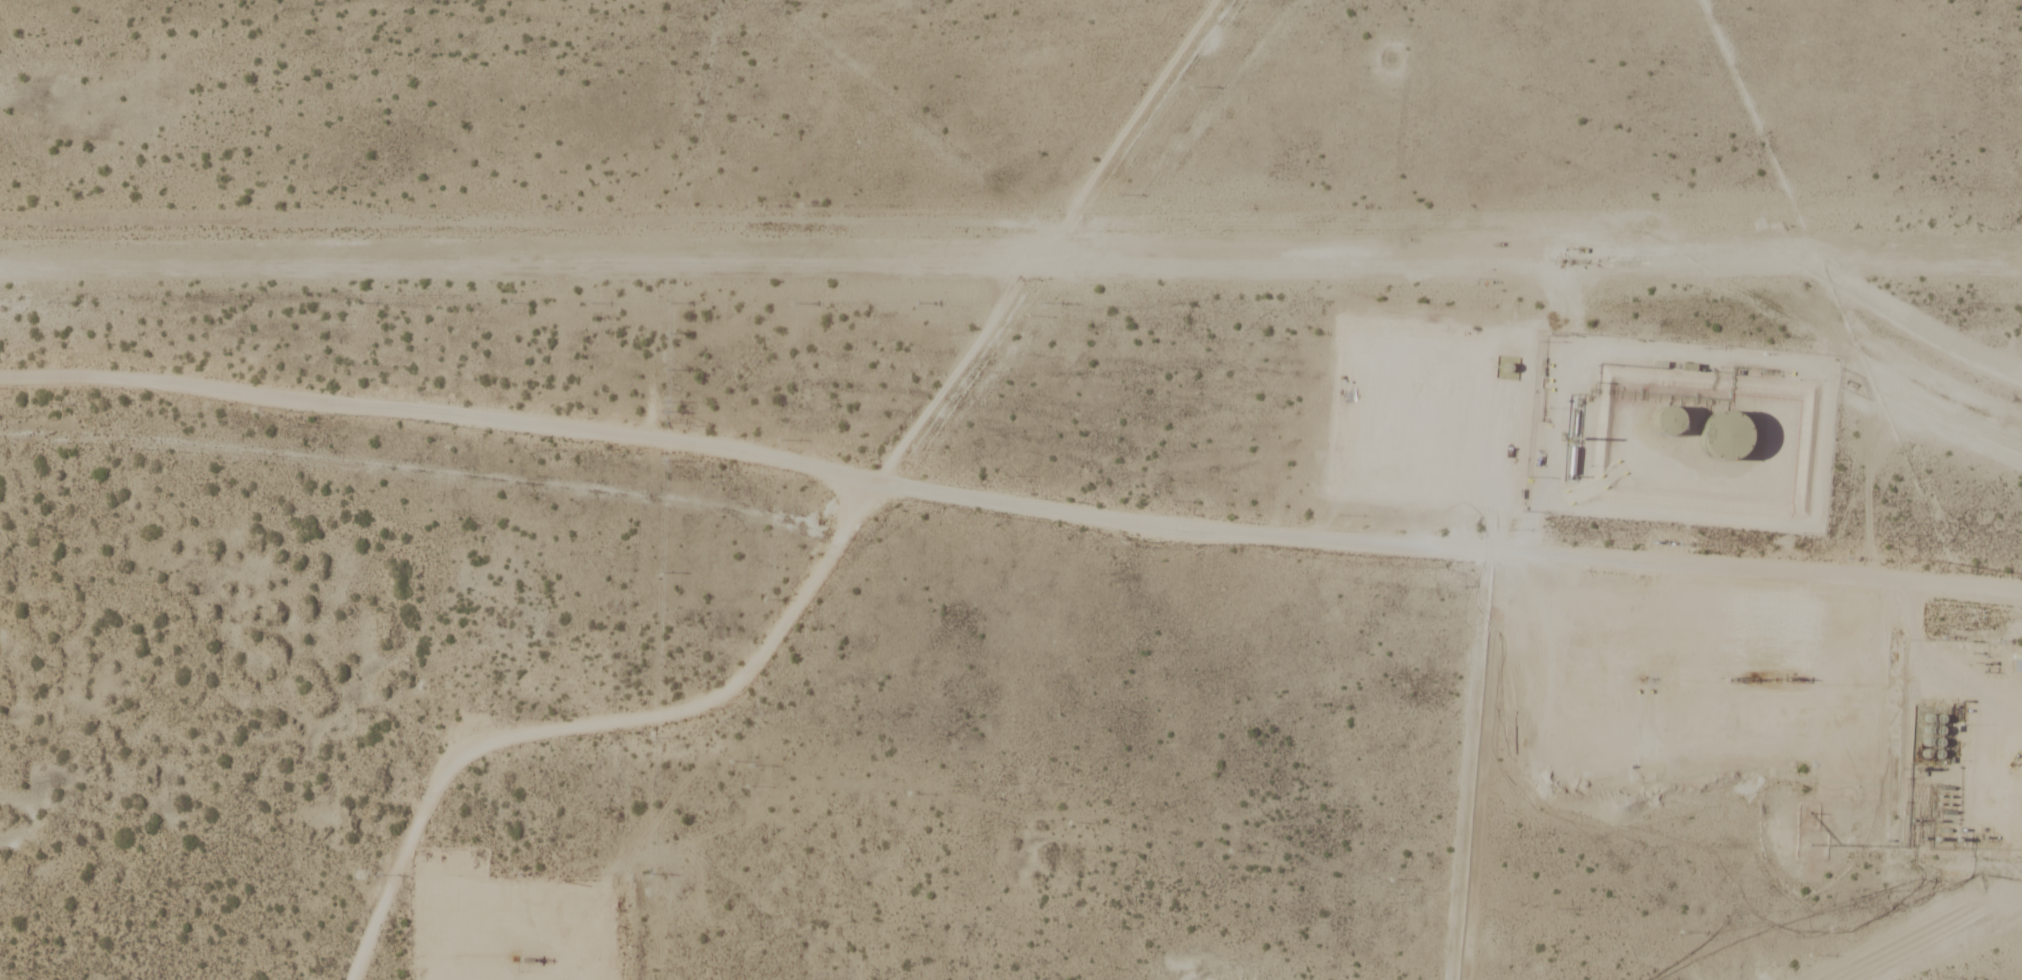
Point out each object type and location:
road: (1049, 241)
road: (1485, 377)
road: (441, 412)
road: (1057, 507)

